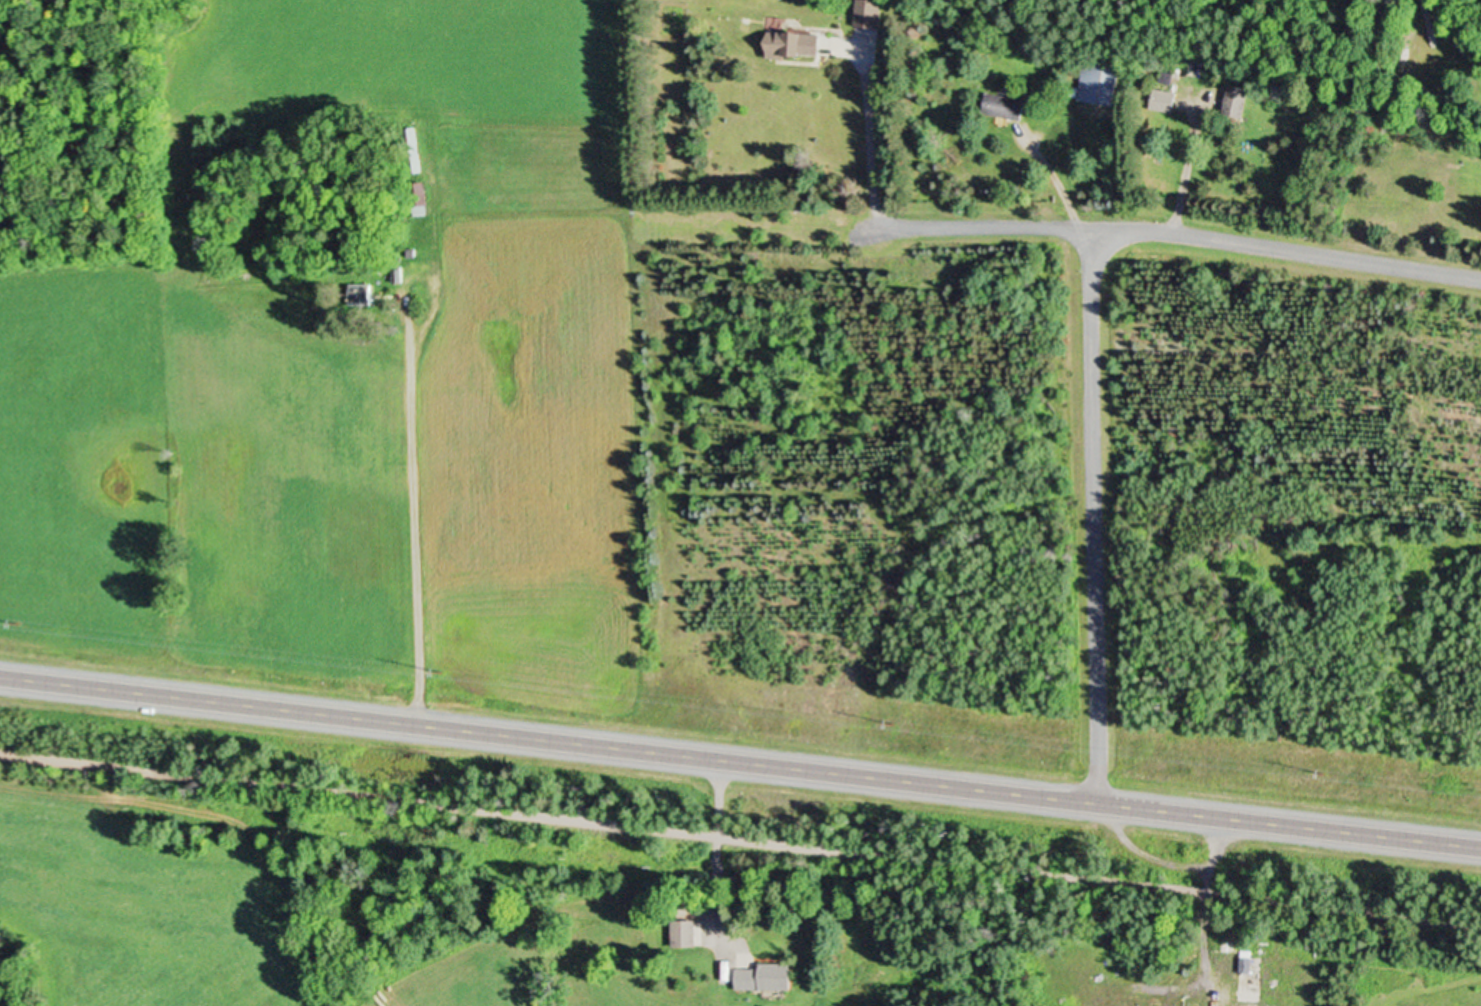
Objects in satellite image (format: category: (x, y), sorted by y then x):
building: (869, 12)
building: (798, 42)
building: (1100, 81)
building: (1165, 99)
building: (1237, 99)
building: (1007, 105)
road: (869, 145)
road: (1184, 170)
road: (1054, 179)
road: (1179, 231)
building: (368, 291)
road: (1093, 515)
road: (417, 535)
power tower: (16, 621)
power tower: (442, 669)
power tower: (890, 720)
road: (740, 761)
power tower: (1321, 768)
road: (740, 837)
road: (715, 842)
road: (1141, 851)
road: (1213, 852)
building: (686, 932)
road: (1194, 943)
building: (766, 975)

